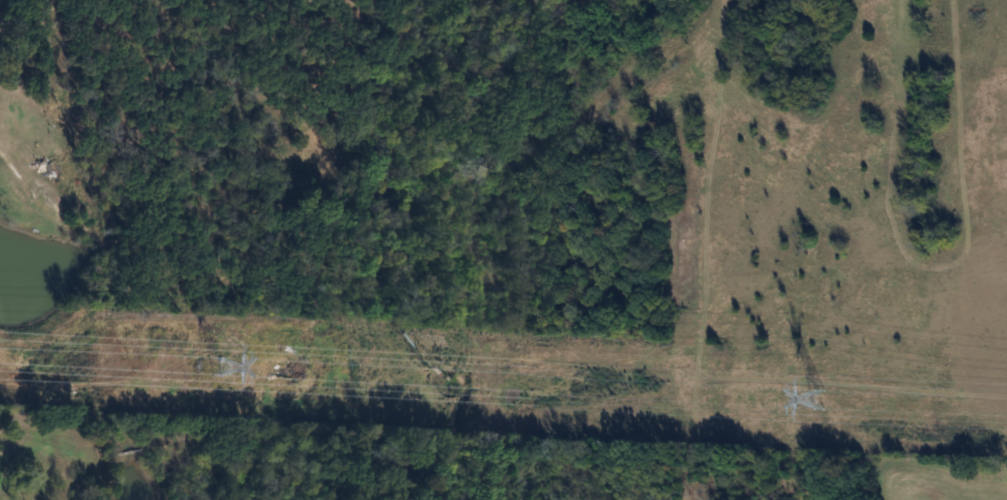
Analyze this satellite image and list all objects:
power tower: (217, 366)
power tower: (818, 398)

